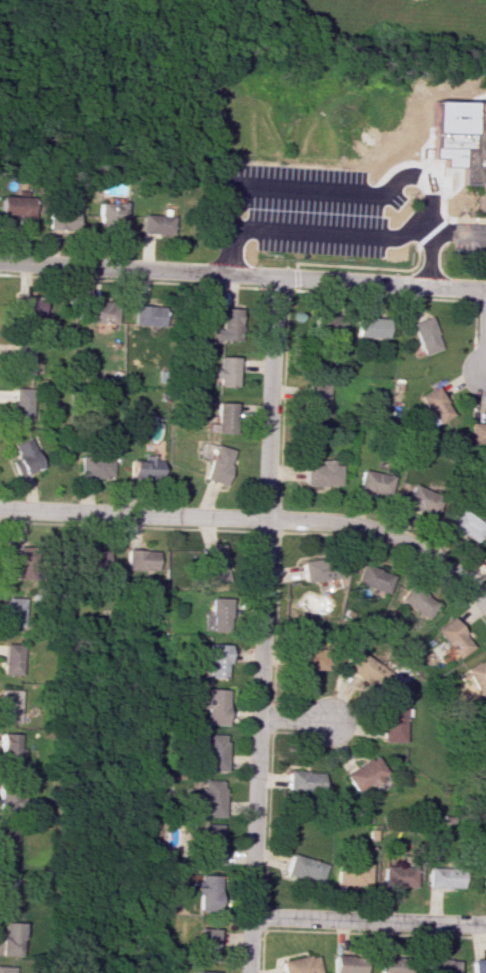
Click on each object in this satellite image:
park: (183, 62)
road: (476, 98)
building: (476, 151)
road: (306, 189)
building: (19, 207)
parking lot: (311, 211)
building: (111, 215)
building: (62, 219)
building: (156, 224)
road: (328, 226)
road: (457, 233)
road: (227, 247)
parking lot: (470, 247)
road: (428, 260)
road: (243, 276)
building: (33, 307)
building: (94, 309)
building: (141, 312)
building: (226, 323)
building: (326, 324)
building: (370, 327)
building: (424, 335)
road: (484, 350)
building: (20, 358)
building: (224, 372)
building: (314, 397)
building: (22, 403)
building: (433, 405)
building: (222, 416)
building: (476, 432)
building: (23, 459)
building: (93, 464)
building: (216, 464)
building: (143, 465)
building: (320, 473)
building: (370, 481)
building: (419, 498)
road: (132, 513)
building: (463, 523)
road: (387, 535)
building: (485, 550)
building: (18, 553)
building: (90, 556)
building: (139, 557)
building: (212, 562)
building: (315, 569)
building: (369, 577)
building: (412, 599)
building: (215, 611)
building: (12, 613)
road: (261, 625)
building: (449, 637)
building: (305, 657)
building: (12, 659)
building: (209, 662)
building: (361, 668)
building: (474, 676)
building: (10, 706)
building: (208, 706)
building: (484, 707)
road: (293, 718)
building: (388, 721)
building: (208, 750)
building: (8, 752)
building: (359, 772)
building: (300, 779)
building: (209, 795)
building: (8, 797)
building: (6, 843)
building: (209, 844)
building: (302, 868)
building: (395, 873)
building: (348, 874)
building: (481, 874)
building: (441, 877)
building: (6, 888)
building: (203, 891)
road: (368, 921)
building: (7, 939)
building: (206, 945)
building: (346, 963)
building: (392, 963)
building: (296, 964)
building: (438, 964)
building: (477, 965)
building: (5, 970)
building: (202, 971)

